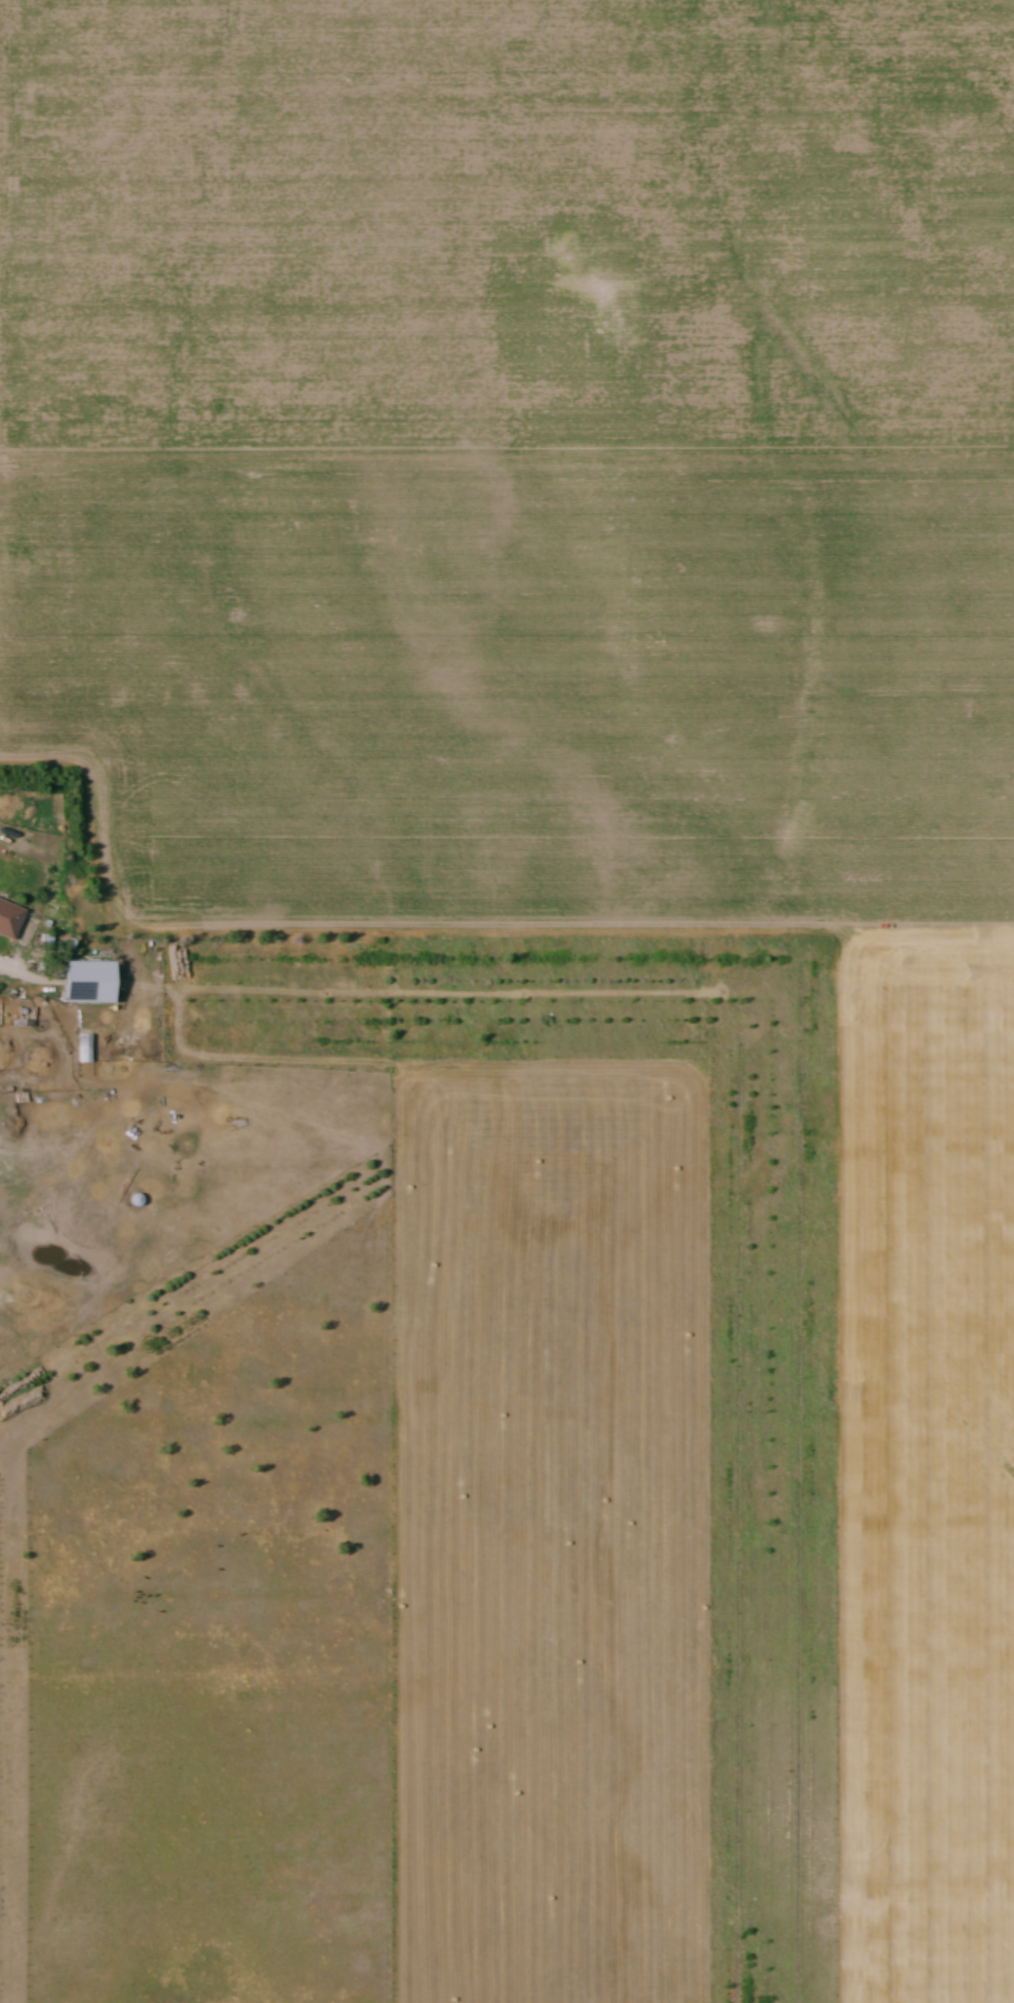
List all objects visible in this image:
building: (6, 917)
building: (28, 933)
building: (90, 984)
building: (137, 1202)

